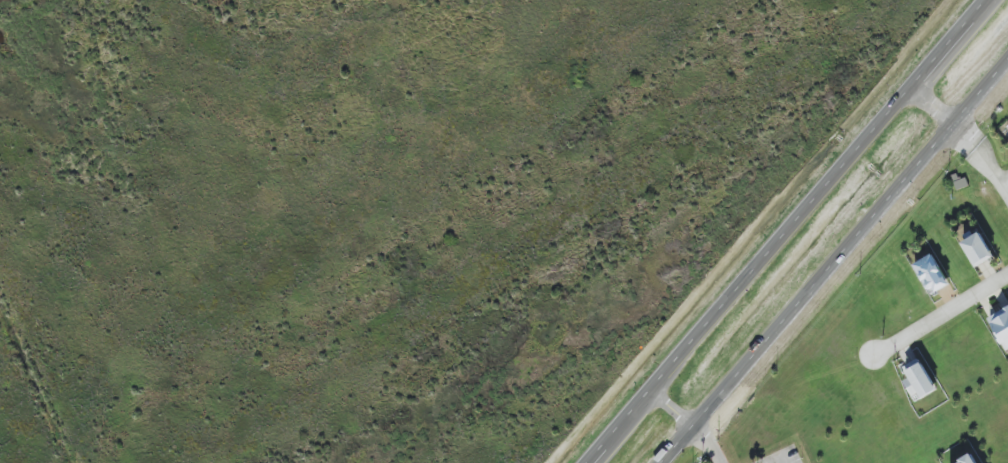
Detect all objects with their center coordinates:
road: (964, 135)
road: (1006, 184)
road: (787, 231)
building: (978, 249)
road: (833, 262)
building: (932, 274)
road: (941, 316)
building: (1001, 326)
building: (918, 380)
road: (673, 405)
road: (709, 442)
road: (782, 459)

